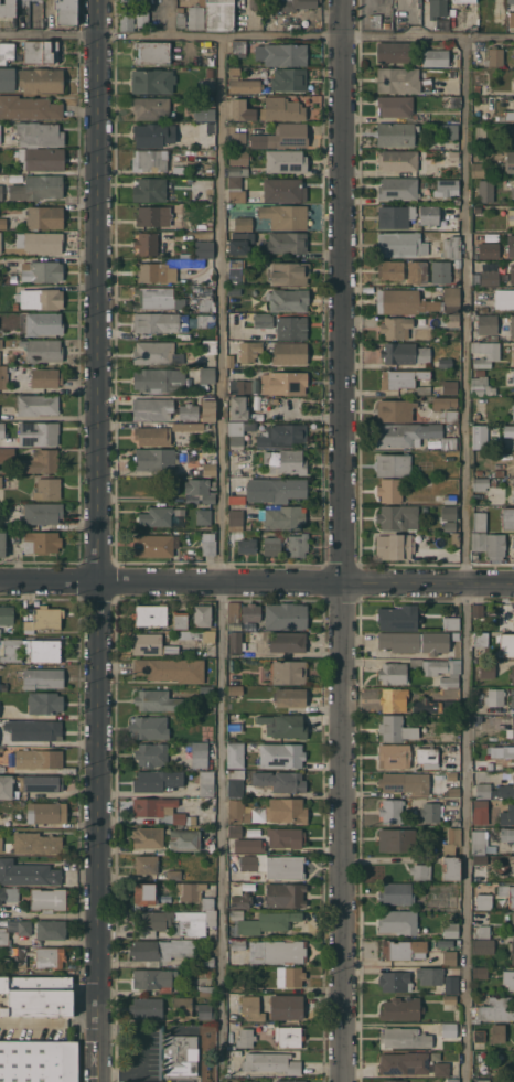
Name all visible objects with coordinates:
building: (133, 0)
building: (464, 0)
building: (510, 1)
building: (295, 4)
building: (416, 4)
building: (8, 8)
building: (437, 8)
building: (66, 12)
building: (219, 15)
building: (126, 17)
building: (181, 17)
building: (195, 17)
building: (142, 19)
building: (511, 19)
road: (257, 35)
building: (238, 46)
building: (513, 50)
building: (6, 51)
building: (41, 51)
building: (393, 51)
building: (152, 52)
building: (281, 54)
building: (494, 56)
building: (435, 57)
building: (210, 72)
building: (32, 79)
building: (289, 79)
building: (152, 81)
building: (404, 81)
building: (513, 82)
building: (244, 85)
building: (476, 89)
building: (482, 99)
building: (456, 101)
building: (394, 105)
building: (29, 107)
building: (150, 107)
building: (282, 108)
building: (240, 109)
building: (204, 114)
building: (507, 114)
building: (419, 117)
building: (449, 131)
building: (396, 133)
building: (39, 135)
building: (154, 135)
building: (511, 135)
building: (282, 136)
building: (238, 138)
building: (238, 157)
building: (42, 158)
building: (150, 160)
building: (397, 160)
building: (286, 161)
building: (510, 162)
building: (179, 169)
building: (478, 169)
building: (237, 170)
building: (38, 188)
building: (447, 188)
building: (149, 189)
building: (397, 189)
building: (235, 190)
building: (283, 190)
building: (485, 191)
building: (1, 192)
building: (512, 192)
building: (457, 201)
building: (429, 214)
building: (150, 216)
building: (285, 216)
building: (395, 216)
building: (44, 217)
building: (513, 221)
building: (2, 223)
building: (243, 224)
building: (0, 242)
building: (43, 242)
building: (239, 242)
building: (285, 242)
building: (147, 243)
building: (400, 244)
building: (510, 245)
building: (451, 247)
building: (204, 249)
building: (484, 250)
building: (162, 268)
building: (390, 269)
building: (236, 270)
building: (43, 271)
building: (417, 271)
building: (440, 271)
building: (289, 272)
building: (512, 272)
building: (488, 277)
building: (6, 279)
building: (234, 290)
road: (99, 293)
building: (158, 298)
building: (504, 298)
building: (40, 299)
building: (288, 300)
building: (416, 301)
building: (205, 303)
building: (14, 306)
road: (221, 311)
road: (465, 311)
building: (203, 320)
building: (263, 320)
building: (449, 320)
building: (159, 322)
building: (41, 323)
building: (488, 324)
building: (512, 325)
building: (291, 326)
building: (395, 326)
building: (1, 336)
building: (1, 343)
building: (42, 350)
building: (249, 351)
building: (205, 352)
building: (156, 353)
building: (289, 353)
building: (404, 353)
building: (485, 353)
building: (513, 354)
building: (231, 361)
building: (445, 362)
building: (480, 372)
building: (207, 375)
building: (3, 377)
building: (508, 377)
building: (45, 378)
building: (401, 378)
building: (158, 379)
building: (283, 382)
building: (239, 386)
building: (481, 386)
building: (450, 387)
building: (424, 389)
building: (443, 403)
building: (36, 405)
building: (151, 408)
building: (208, 408)
building: (238, 408)
building: (395, 409)
building: (188, 411)
building: (513, 411)
building: (449, 415)
building: (188, 426)
building: (1, 429)
building: (38, 432)
building: (152, 435)
building: (282, 435)
building: (411, 435)
building: (480, 438)
building: (506, 438)
building: (236, 440)
building: (1, 442)
building: (1, 454)
building: (156, 459)
building: (42, 460)
building: (285, 461)
building: (393, 464)
building: (207, 465)
building: (500, 472)
building: (1, 481)
building: (480, 483)
building: (47, 488)
building: (200, 489)
building: (283, 489)
building: (389, 490)
building: (513, 491)
building: (449, 497)
building: (448, 512)
building: (42, 513)
building: (159, 515)
building: (203, 516)
building: (397, 516)
building: (285, 517)
building: (507, 518)
building: (235, 519)
building: (480, 521)
building: (449, 525)
building: (454, 538)
road: (345, 540)
building: (41, 542)
building: (2, 543)
building: (297, 544)
building: (490, 544)
building: (513, 544)
building: (152, 545)
building: (246, 545)
building: (271, 545)
building: (394, 546)
building: (208, 547)
road: (429, 586)
road: (172, 587)
building: (478, 610)
building: (250, 612)
building: (7, 614)
building: (150, 614)
building: (203, 615)
building: (234, 615)
building: (285, 615)
building: (397, 618)
building: (44, 619)
building: (180, 620)
building: (513, 620)
building: (450, 622)
building: (0, 631)
building: (208, 635)
building: (415, 641)
building: (235, 642)
building: (287, 642)
building: (147, 643)
building: (506, 644)
building: (482, 645)
building: (11, 650)
building: (44, 651)
building: (485, 667)
building: (171, 669)
building: (440, 669)
building: (288, 672)
building: (393, 673)
building: (513, 675)
building: (42, 677)
building: (3, 687)
building: (205, 689)
building: (235, 690)
building: (290, 697)
building: (494, 697)
building: (512, 697)
building: (390, 699)
building: (154, 700)
building: (44, 703)
building: (427, 705)
building: (448, 705)
building: (283, 725)
building: (149, 727)
building: (34, 729)
building: (395, 729)
building: (511, 730)
building: (452, 748)
building: (502, 751)
building: (199, 753)
building: (151, 754)
building: (236, 754)
building: (280, 754)
building: (394, 756)
building: (426, 756)
building: (38, 758)
building: (482, 763)
building: (448, 764)
building: (451, 775)
building: (157, 780)
building: (236, 782)
building: (285, 782)
building: (405, 782)
building: (206, 783)
building: (28, 784)
building: (512, 789)
building: (482, 790)
building: (453, 791)
building: (151, 805)
building: (286, 810)
building: (237, 811)
building: (392, 811)
building: (43, 812)
building: (429, 812)
building: (480, 812)
building: (506, 813)
building: (180, 817)
building: (235, 832)
road: (98, 834)
road: (221, 834)
road: (465, 834)
building: (506, 834)
building: (147, 837)
building: (286, 837)
building: (184, 839)
building: (396, 839)
building: (452, 839)
building: (35, 843)
building: (1, 844)
building: (481, 844)
building: (248, 845)
building: (512, 846)
road: (389, 858)
building: (481, 859)
building: (146, 864)
building: (274, 865)
building: (450, 867)
building: (511, 867)
building: (420, 871)
building: (28, 872)
building: (173, 875)
building: (190, 890)
building: (506, 892)
building: (9, 893)
building: (144, 893)
building: (396, 893)
building: (285, 894)
building: (47, 899)
building: (240, 900)
building: (451, 901)
building: (483, 901)
building: (207, 902)
building: (264, 921)
building: (174, 922)
building: (398, 922)
building: (511, 923)
building: (24, 928)
building: (51, 929)
building: (450, 929)
building: (483, 931)
building: (3, 936)
building: (238, 944)
building: (483, 946)
building: (404, 949)
building: (161, 950)
building: (277, 951)
building: (512, 951)
building: (19, 956)
building: (50, 956)
building: (449, 957)
building: (206, 961)
building: (478, 972)
building: (430, 975)
building: (290, 976)
building: (508, 978)
building: (153, 979)
building: (395, 981)
building: (451, 984)
building: (236, 985)
building: (206, 990)
building: (36, 995)
building: (449, 998)
building: (146, 1007)
building: (182, 1007)
building: (287, 1007)
building: (250, 1008)
building: (400, 1009)
building: (493, 1009)
building: (204, 1010)
building: (449, 1029)
building: (496, 1032)
building: (479, 1035)
building: (289, 1036)
building: (245, 1037)
building: (405, 1037)
building: (142, 1039)
building: (232, 1046)
building: (179, 1054)
building: (39, 1062)
building: (271, 1062)
building: (404, 1062)
building: (441, 1069)
building: (394, 1080)
building: (452, 1080)
building: (483, 1080)
building: (290, 1081)

